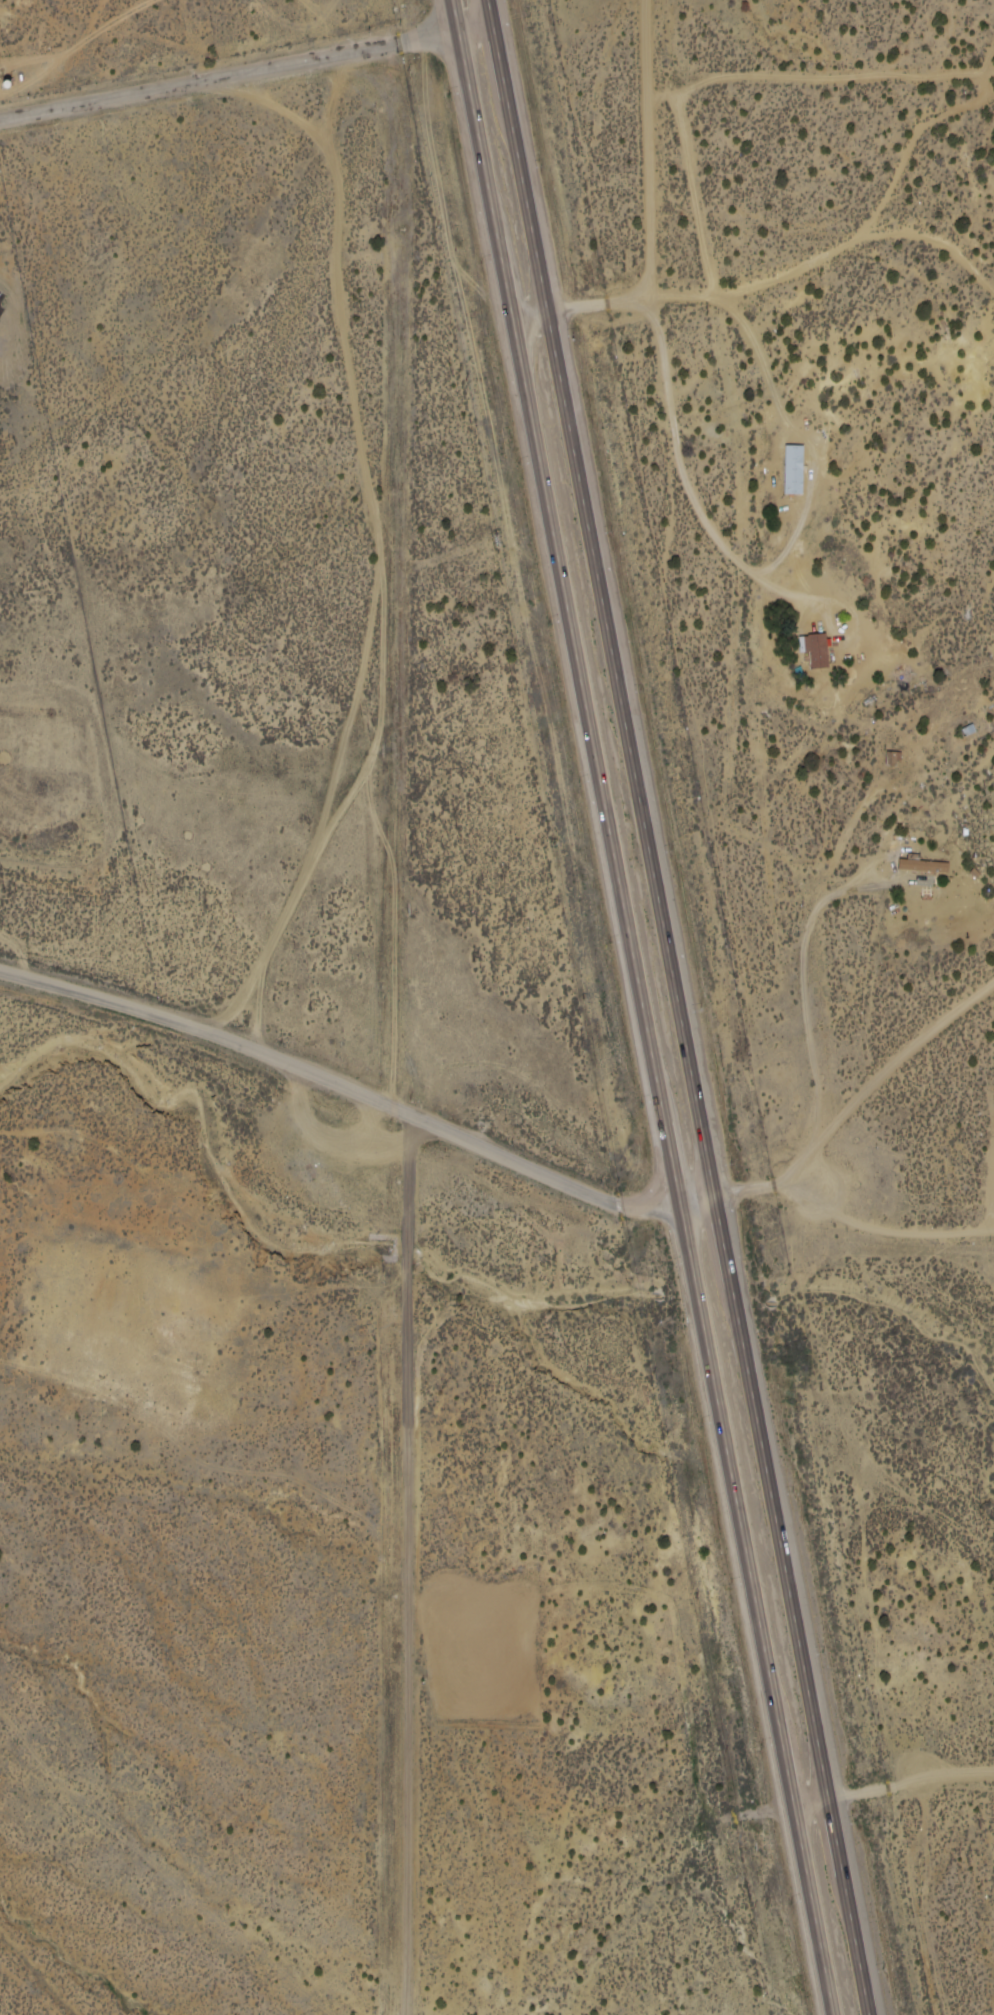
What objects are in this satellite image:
road: (247, 72)
road: (659, 150)
road: (862, 248)
road: (608, 304)
building: (794, 470)
building: (818, 648)
road: (680, 1006)
road: (641, 1007)
road: (359, 1092)
road: (885, 1101)
road: (855, 1214)
road: (408, 1564)
road: (851, 1797)

